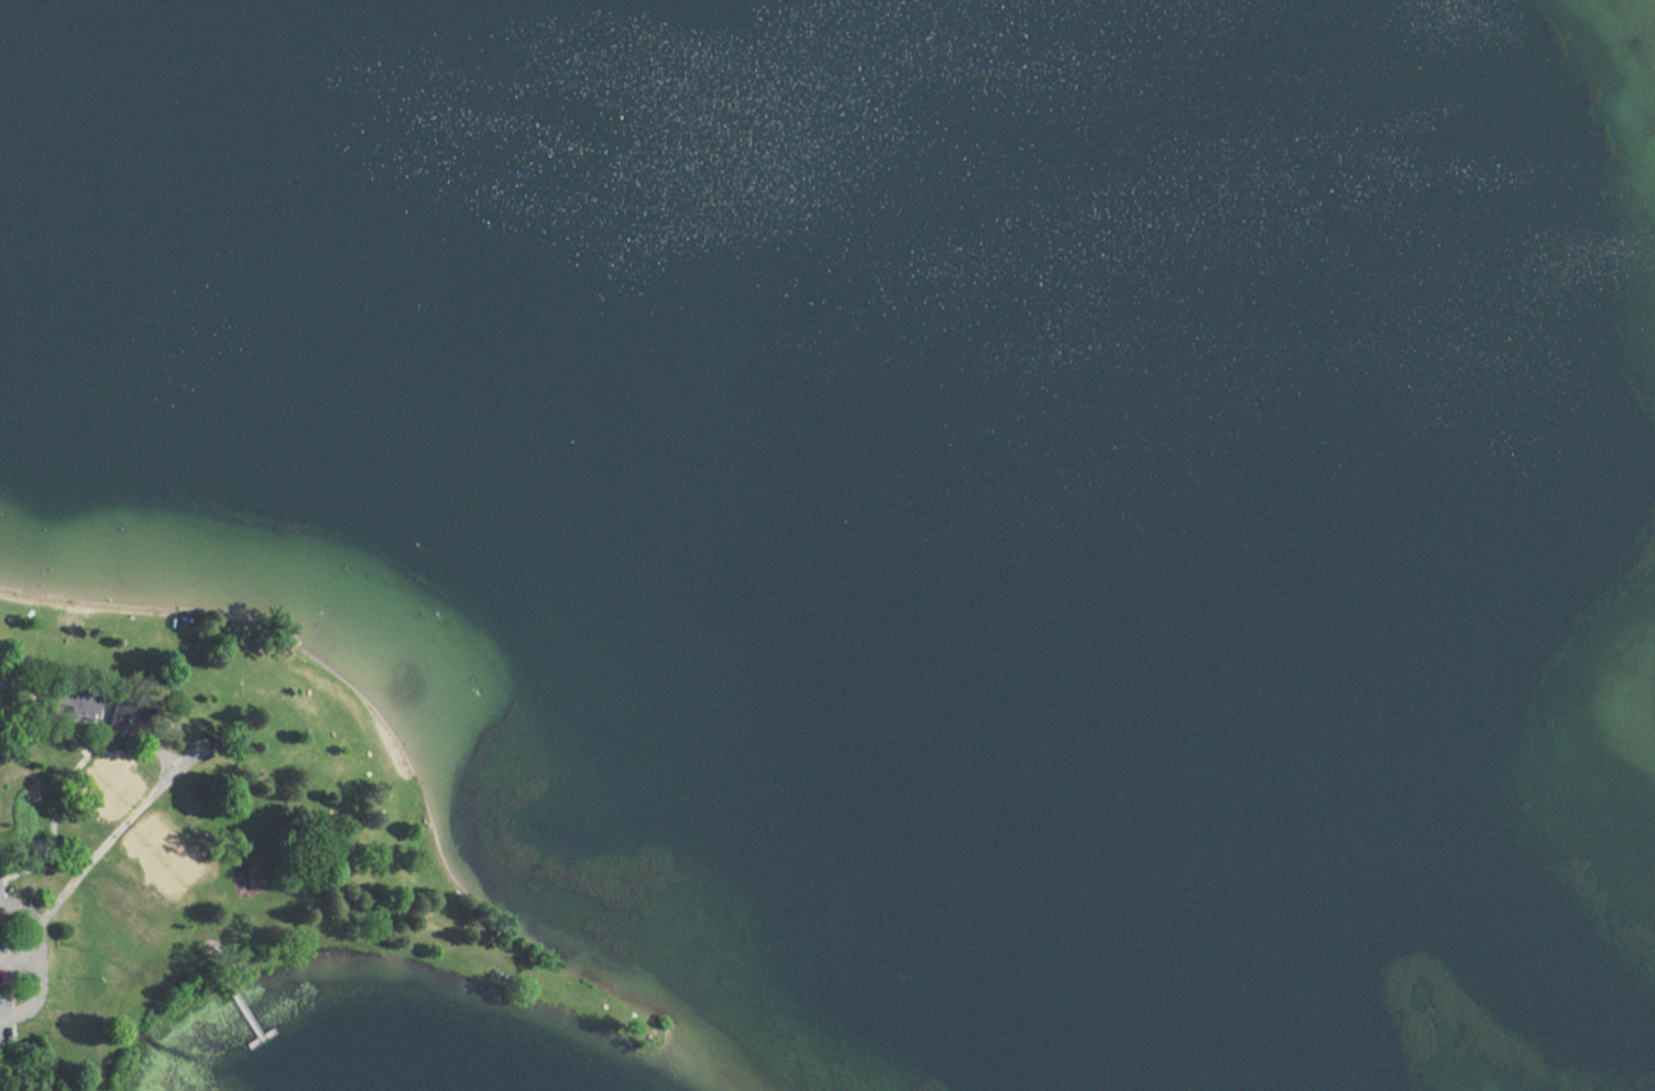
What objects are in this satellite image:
road: (67, 683)
building: (72, 700)
building: (94, 706)
building: (136, 716)
road: (62, 717)
road: (153, 744)
park: (112, 787)
road: (56, 792)
road: (116, 832)
park: (212, 833)
park: (162, 855)
road: (18, 958)
road: (37, 962)
road: (11, 967)
parking lot: (4, 982)
pier: (249, 1015)
pier: (271, 1044)
road: (52, 1049)

